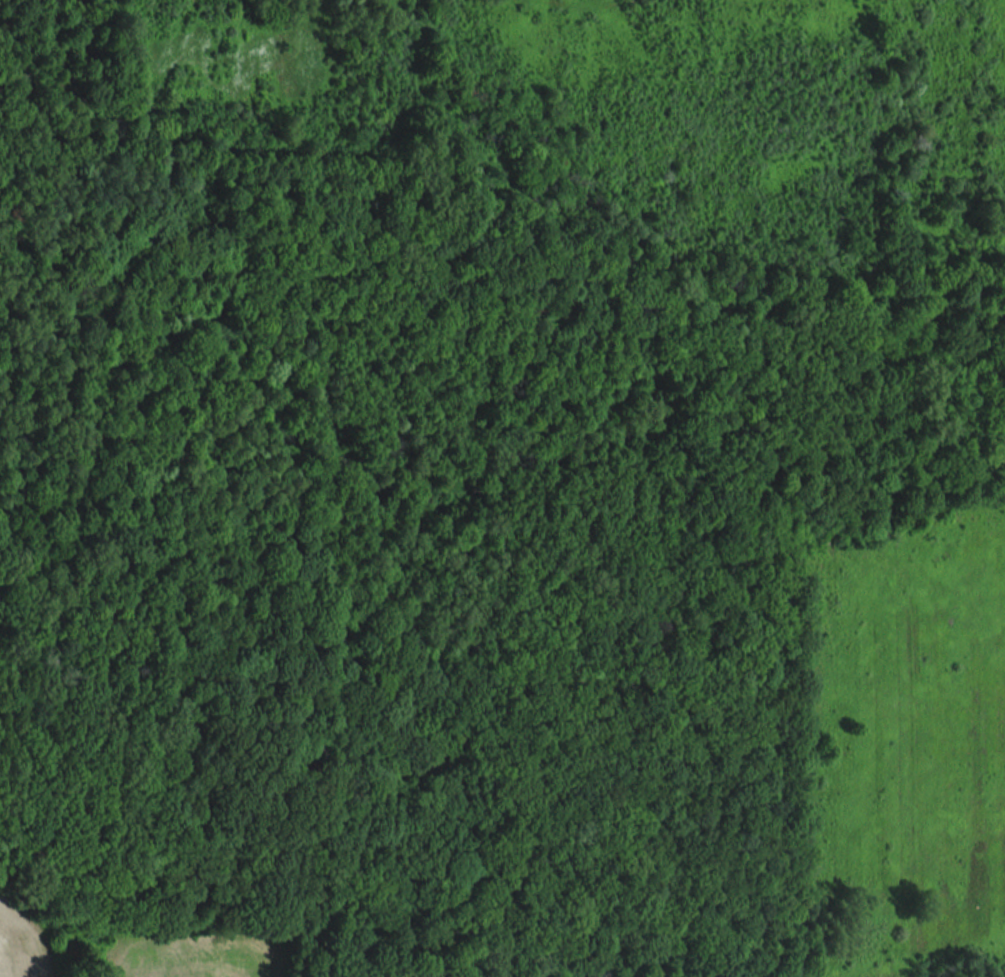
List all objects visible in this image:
crop: (20, 935)
crop: (194, 957)

